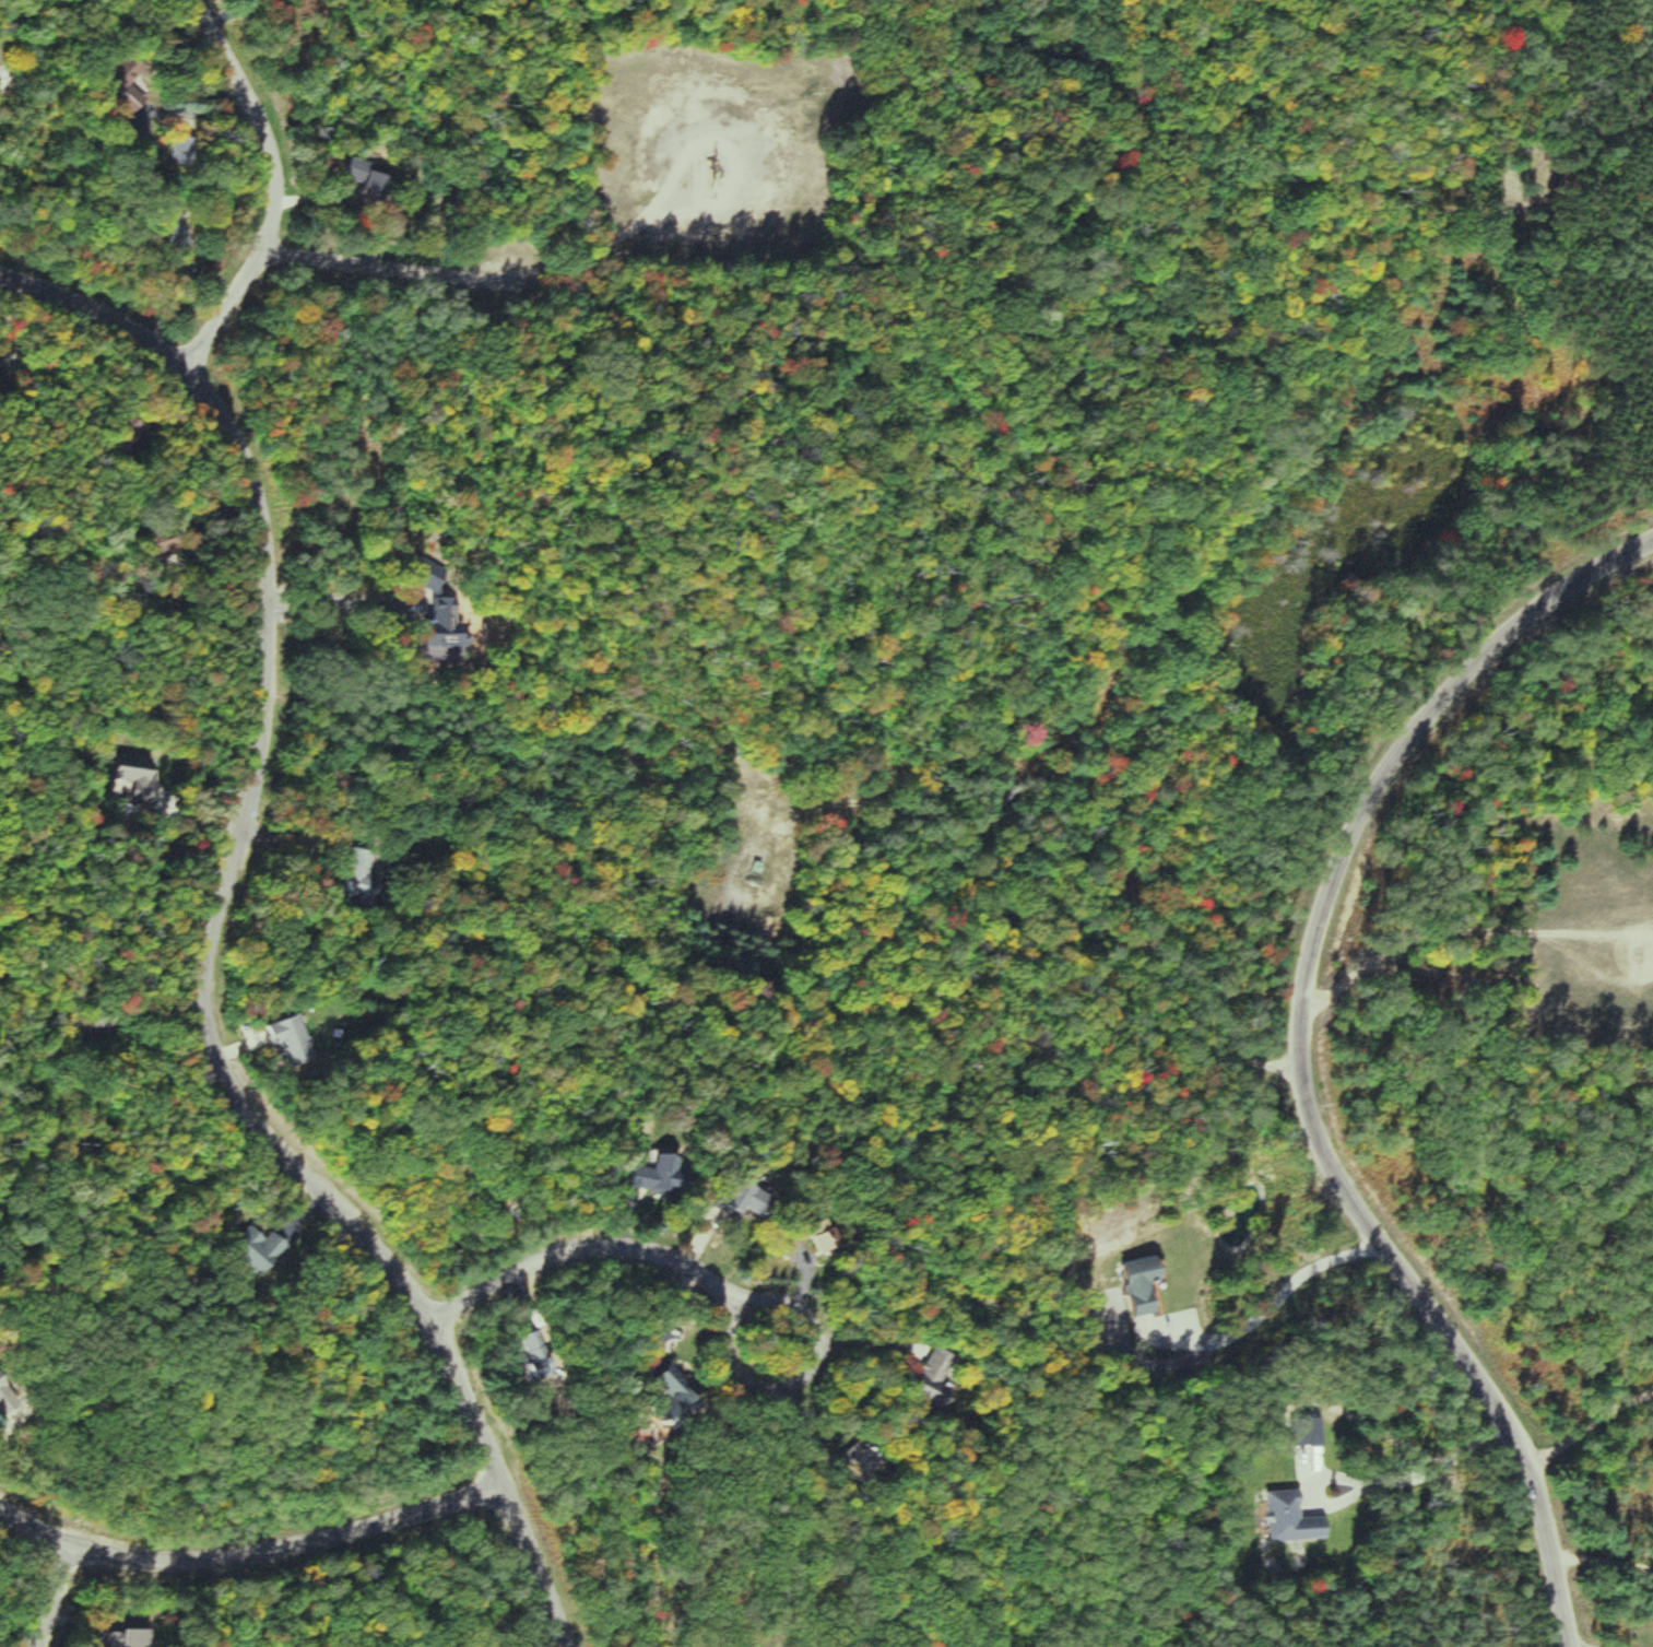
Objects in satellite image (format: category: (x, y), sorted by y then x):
petroleum well: (711, 162)
building: (361, 172)
road: (267, 187)
road: (465, 281)
road: (97, 311)
building: (451, 623)
building: (144, 770)
building: (758, 874)
road: (1474, 930)
road: (210, 966)
building: (296, 1040)
road: (1302, 1059)
building: (660, 1175)
building: (751, 1199)
building: (269, 1249)
building: (1131, 1285)
road: (720, 1306)
building: (544, 1354)
building: (8, 1391)
building: (687, 1393)
building: (942, 1395)
building: (872, 1459)
building: (1283, 1518)
road: (267, 1550)
road: (1597, 1554)
road: (567, 1561)
road: (50, 1596)
building: (128, 1639)

